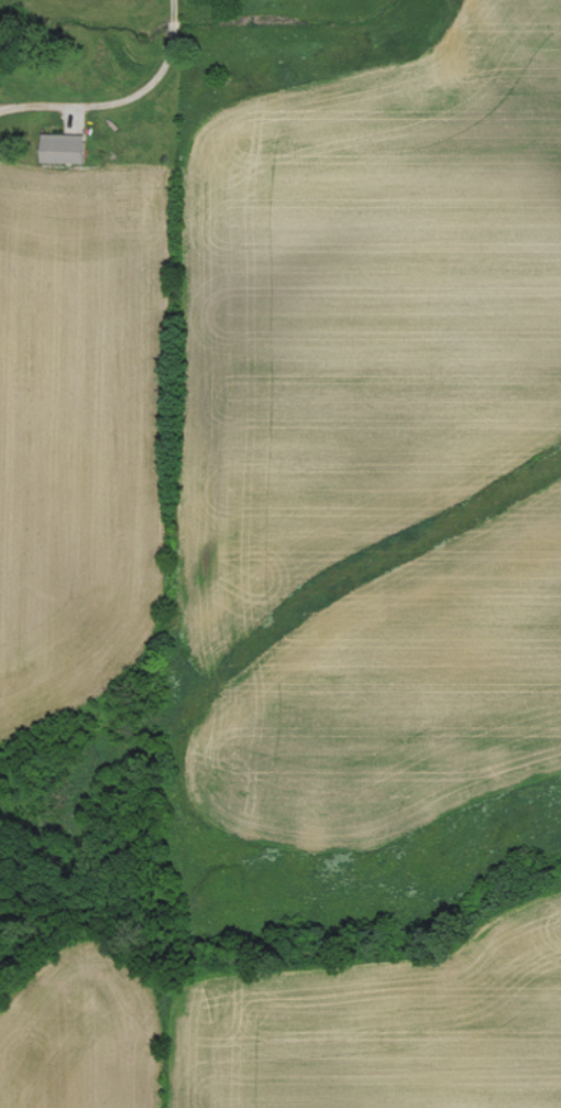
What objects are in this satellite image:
building: (59, 146)

